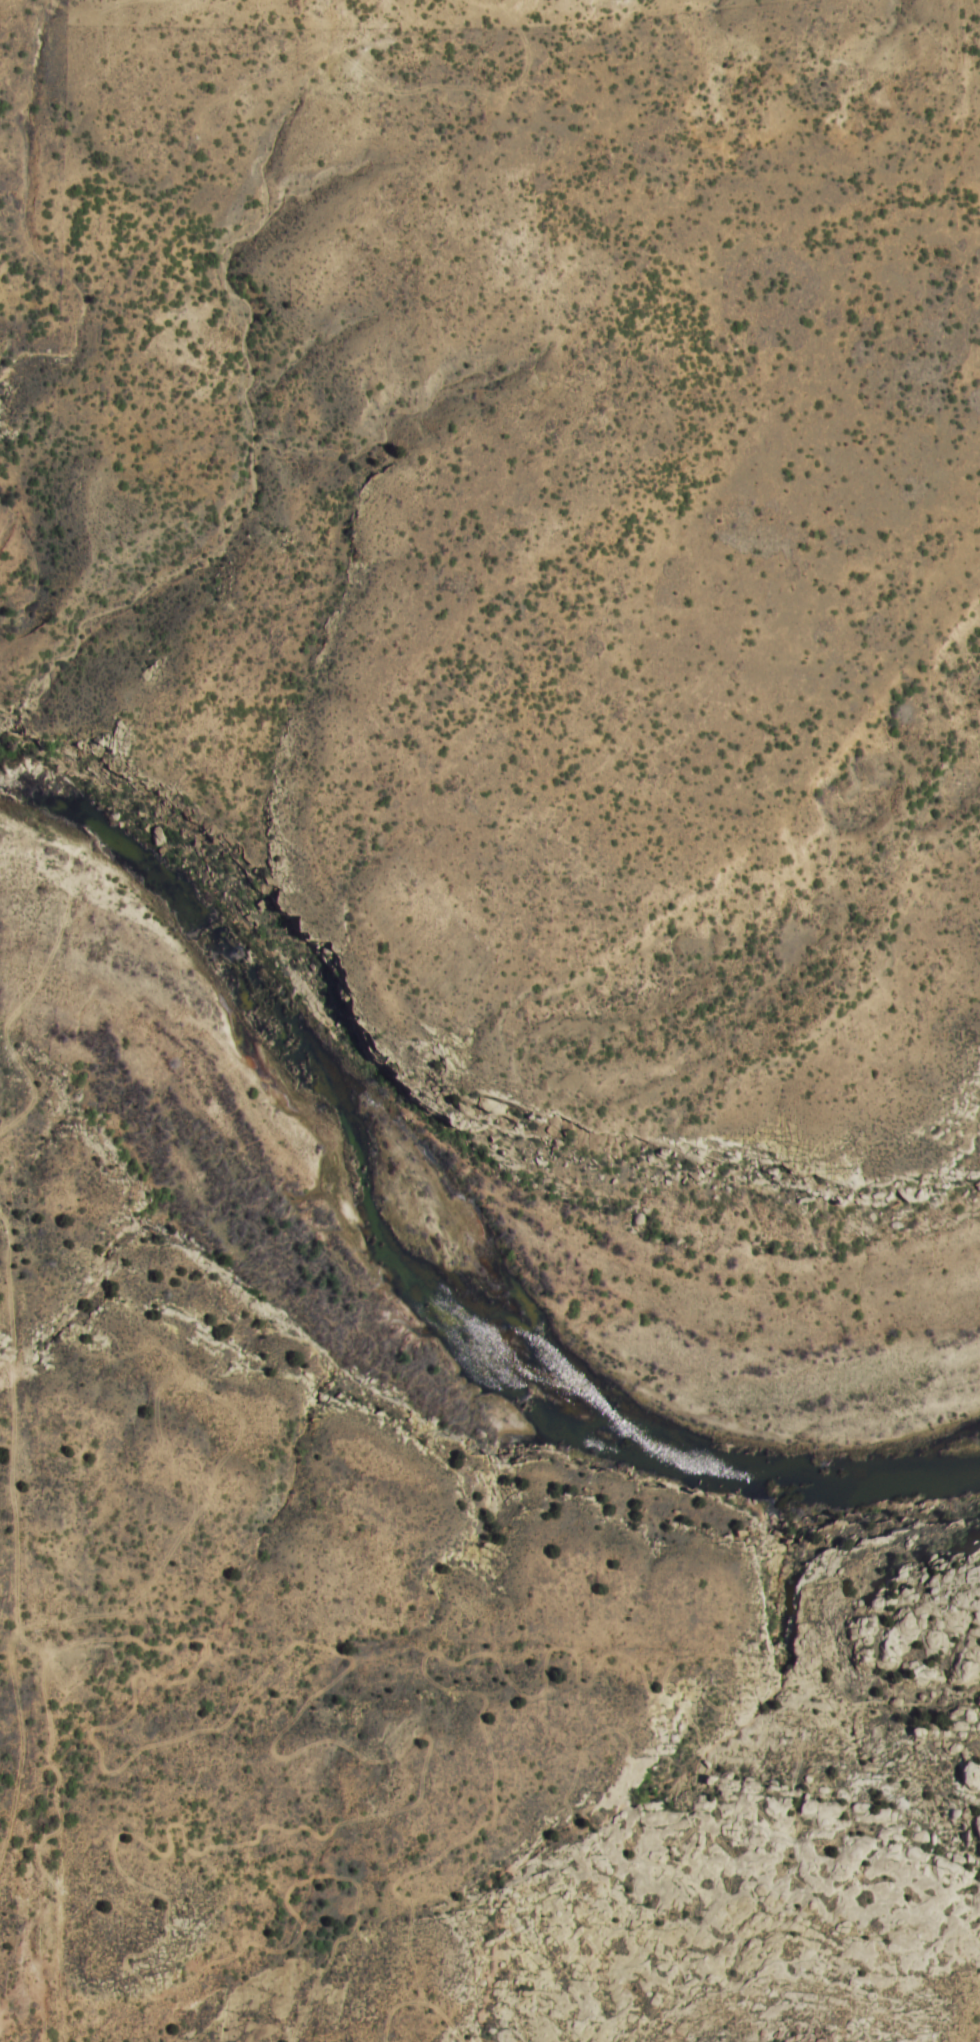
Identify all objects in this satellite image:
river: (394, 1269)

